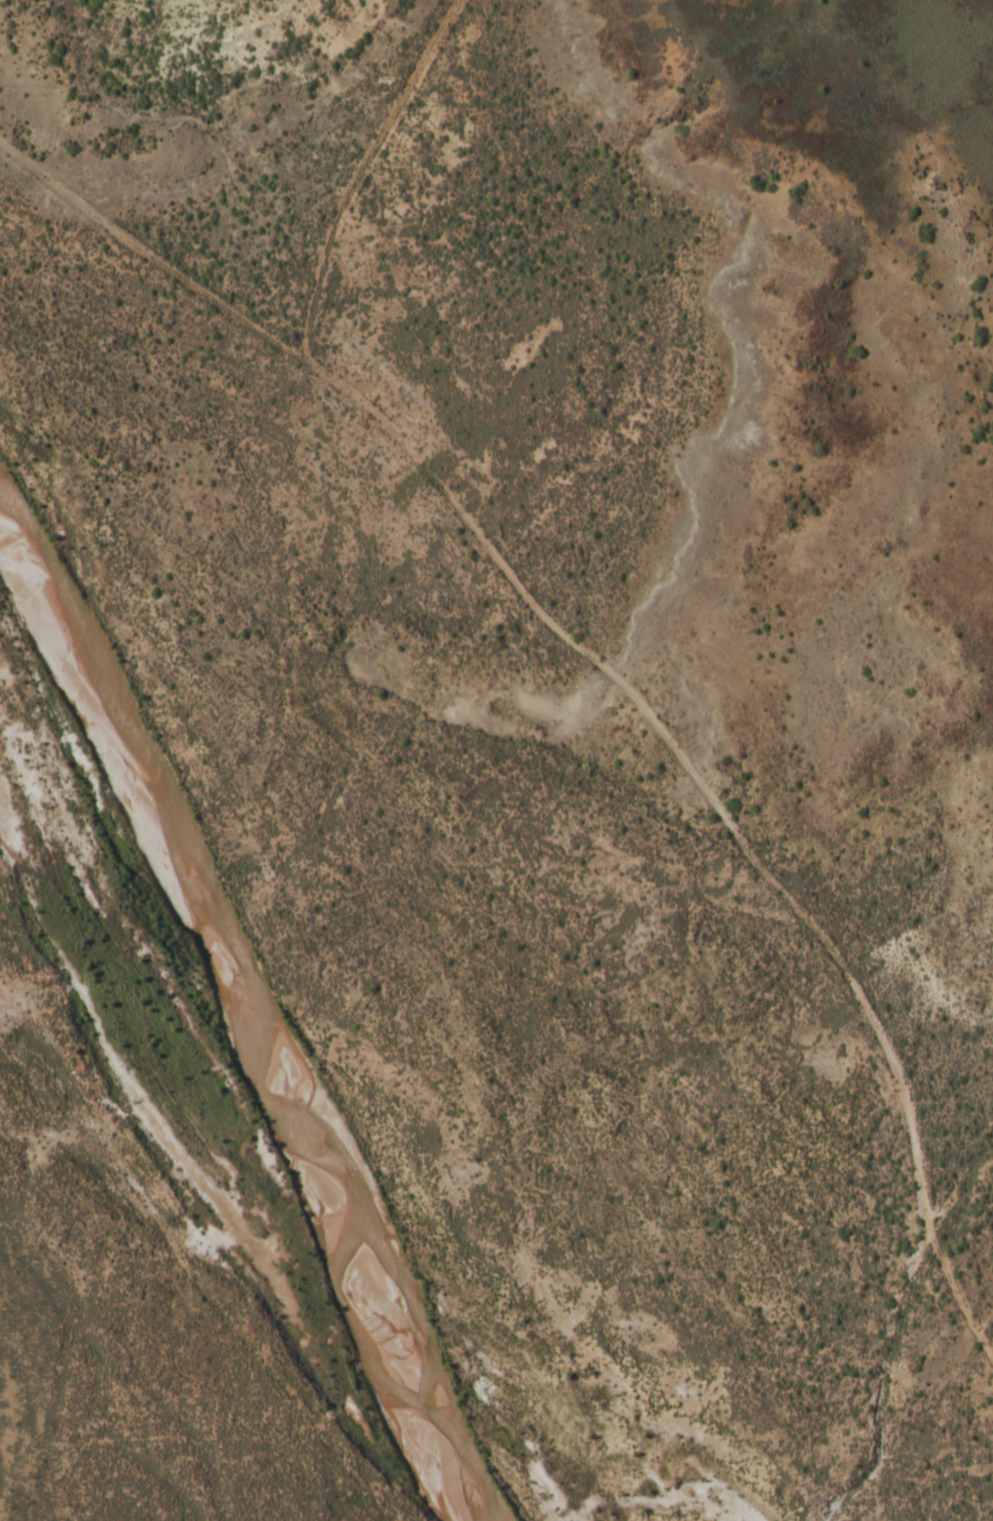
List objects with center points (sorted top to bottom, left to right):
river: (260, 1007)

